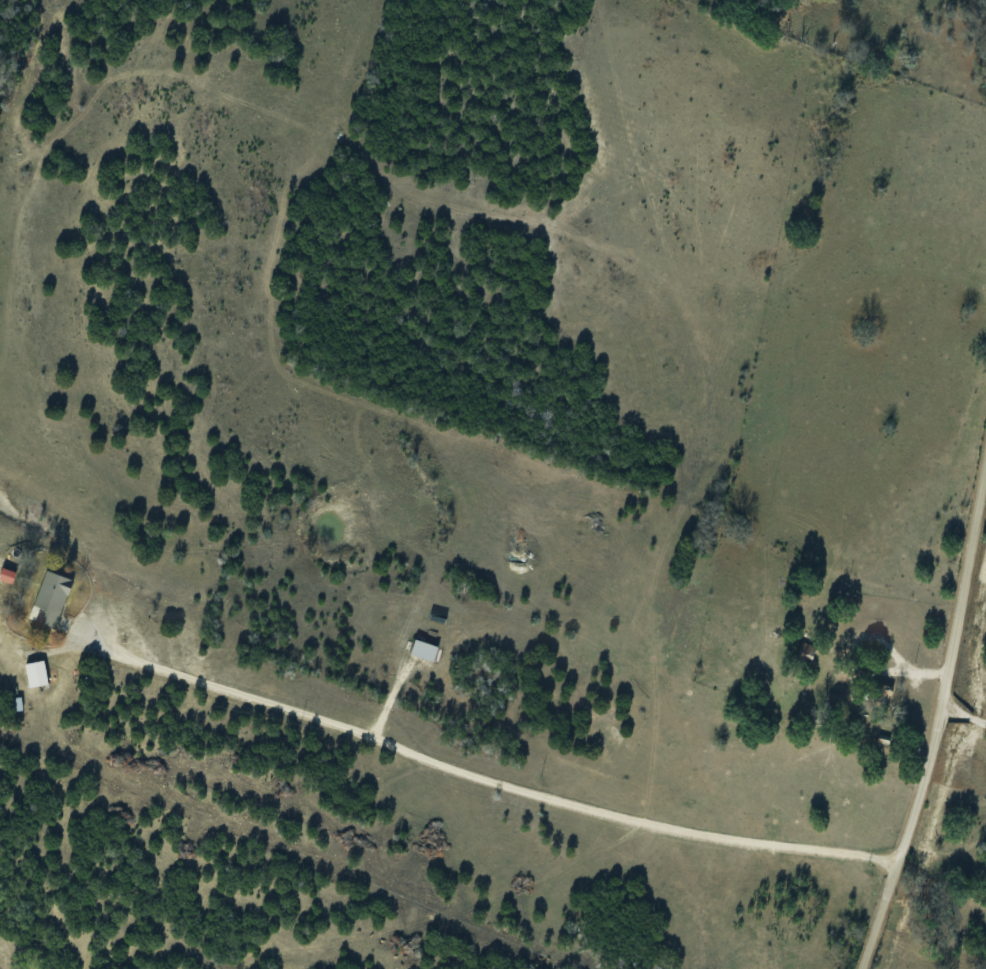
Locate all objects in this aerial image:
building: (5, 576)
building: (47, 598)
building: (422, 649)
building: (806, 650)
building: (34, 674)
road: (934, 718)

